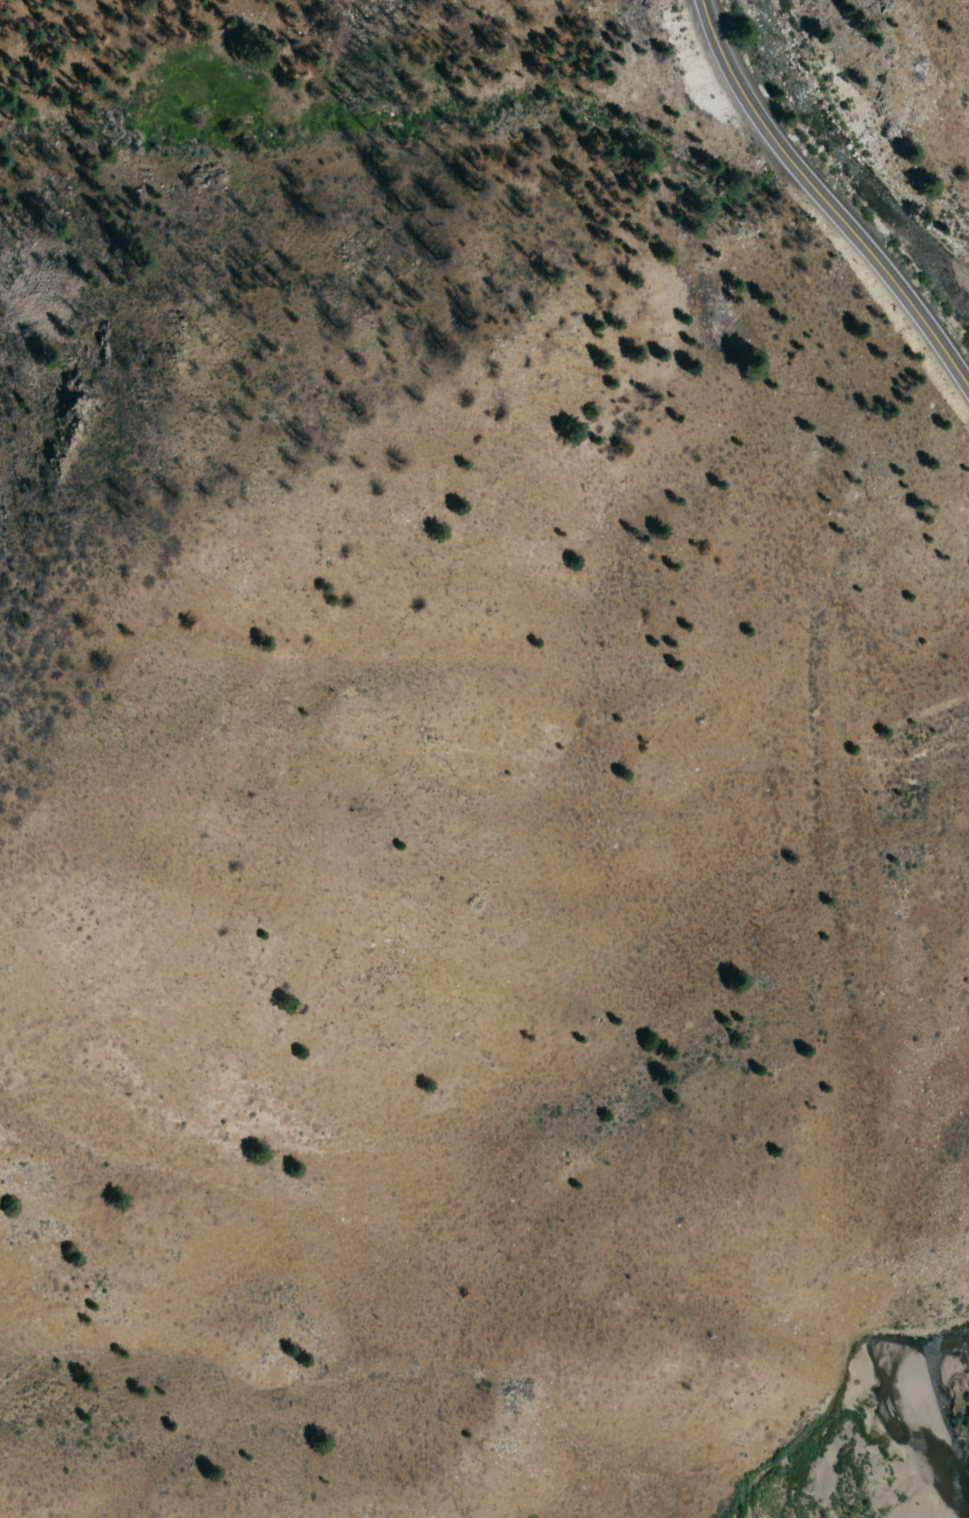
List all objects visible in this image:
river: (851, 165)
road: (822, 202)
river: (886, 1399)

